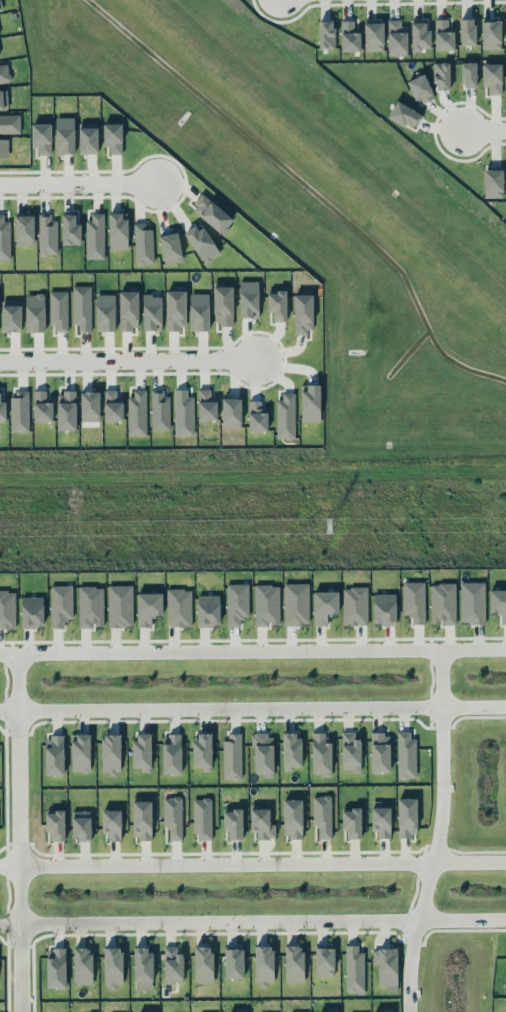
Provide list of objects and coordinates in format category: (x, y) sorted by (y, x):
building: (467, 31)
building: (491, 33)
building: (505, 33)
building: (326, 34)
building: (444, 35)
building: (349, 36)
building: (374, 36)
building: (420, 36)
building: (397, 37)
building: (4, 73)
building: (469, 74)
building: (442, 75)
building: (492, 77)
building: (421, 88)
building: (3, 99)
building: (404, 114)
building: (10, 123)
road: (484, 127)
building: (65, 135)
building: (42, 137)
building: (88, 137)
building: (113, 138)
building: (4, 147)
building: (493, 183)
road: (80, 186)
building: (212, 213)
building: (24, 229)
building: (70, 229)
building: (117, 230)
building: (47, 233)
building: (95, 236)
building: (5, 237)
building: (143, 242)
building: (202, 243)
building: (171, 247)
building: (249, 298)
building: (277, 304)
building: (223, 305)
building: (82, 306)
building: (176, 308)
building: (128, 309)
building: (59, 310)
building: (199, 311)
building: (35, 312)
building: (105, 312)
building: (152, 312)
building: (303, 312)
building: (11, 315)
road: (126, 363)
building: (310, 402)
building: (90, 405)
building: (206, 405)
building: (42, 406)
building: (112, 406)
building: (2, 409)
building: (160, 409)
building: (66, 410)
building: (20, 411)
building: (137, 412)
building: (183, 412)
building: (231, 412)
building: (257, 415)
building: (286, 416)
power tower: (332, 528)
building: (414, 601)
building: (472, 602)
building: (498, 602)
building: (237, 603)
building: (296, 603)
building: (443, 603)
building: (61, 604)
building: (266, 604)
building: (91, 605)
building: (120, 605)
building: (355, 605)
building: (324, 606)
building: (148, 607)
building: (179, 607)
building: (7, 608)
building: (384, 608)
building: (208, 610)
building: (32, 611)
road: (253, 662)
road: (252, 705)
building: (291, 750)
building: (142, 751)
building: (202, 751)
building: (351, 751)
building: (380, 751)
building: (80, 752)
building: (111, 753)
building: (171, 753)
building: (54, 754)
building: (263, 754)
building: (321, 754)
building: (406, 754)
building: (232, 756)
building: (322, 815)
building: (173, 816)
building: (407, 816)
building: (203, 818)
building: (292, 818)
building: (142, 819)
building: (381, 821)
building: (261, 822)
building: (352, 822)
building: (112, 823)
building: (233, 823)
building: (55, 824)
building: (81, 824)
road: (433, 837)
road: (16, 838)
road: (252, 865)
road: (252, 919)
building: (324, 961)
building: (234, 962)
building: (143, 963)
building: (294, 963)
building: (203, 964)
building: (264, 964)
building: (82, 965)
building: (173, 965)
building: (386, 965)
building: (112, 966)
building: (56, 967)
building: (354, 968)
building: (228, 1011)
building: (328, 1011)
building: (504, 1011)

